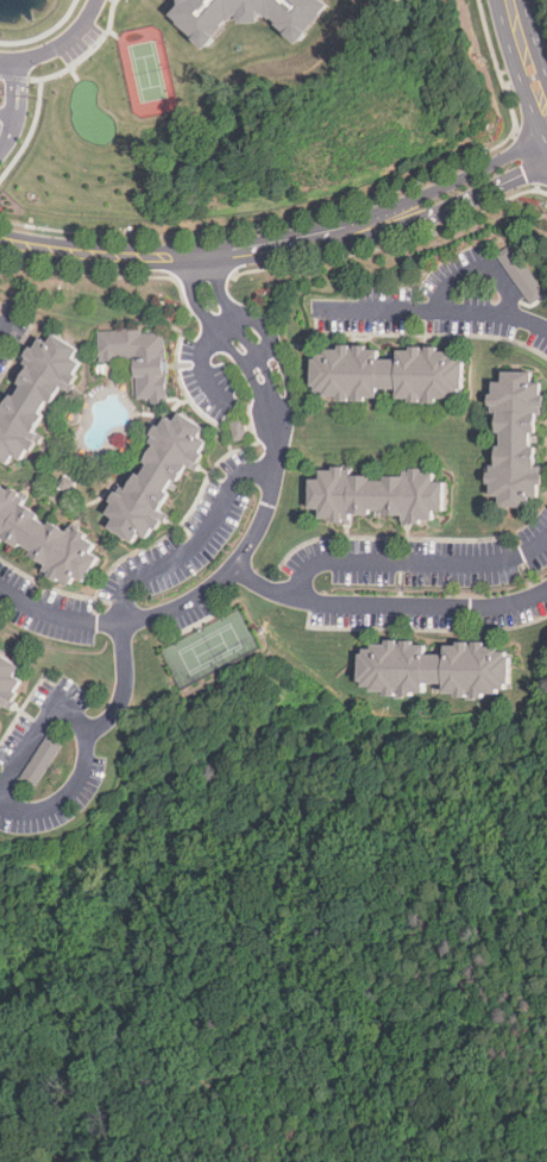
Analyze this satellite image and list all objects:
building: (246, 15)
road: (59, 43)
road: (528, 52)
road: (2, 58)
road: (6, 75)
road: (1, 100)
road: (281, 245)
road: (480, 267)
building: (521, 274)
road: (218, 288)
road: (196, 298)
building: (0, 304)
building: (1, 308)
road: (438, 308)
road: (259, 323)
road: (241, 338)
road: (231, 346)
road: (266, 348)
road: (202, 352)
building: (139, 357)
road: (251, 357)
building: (388, 373)
road: (290, 386)
road: (273, 389)
building: (36, 394)
road: (262, 395)
building: (240, 430)
building: (515, 436)
building: (157, 477)
building: (376, 493)
building: (45, 538)
road: (195, 538)
road: (415, 561)
road: (190, 599)
road: (384, 602)
park: (209, 649)
building: (436, 668)
building: (10, 681)
building: (42, 761)
road: (52, 800)

